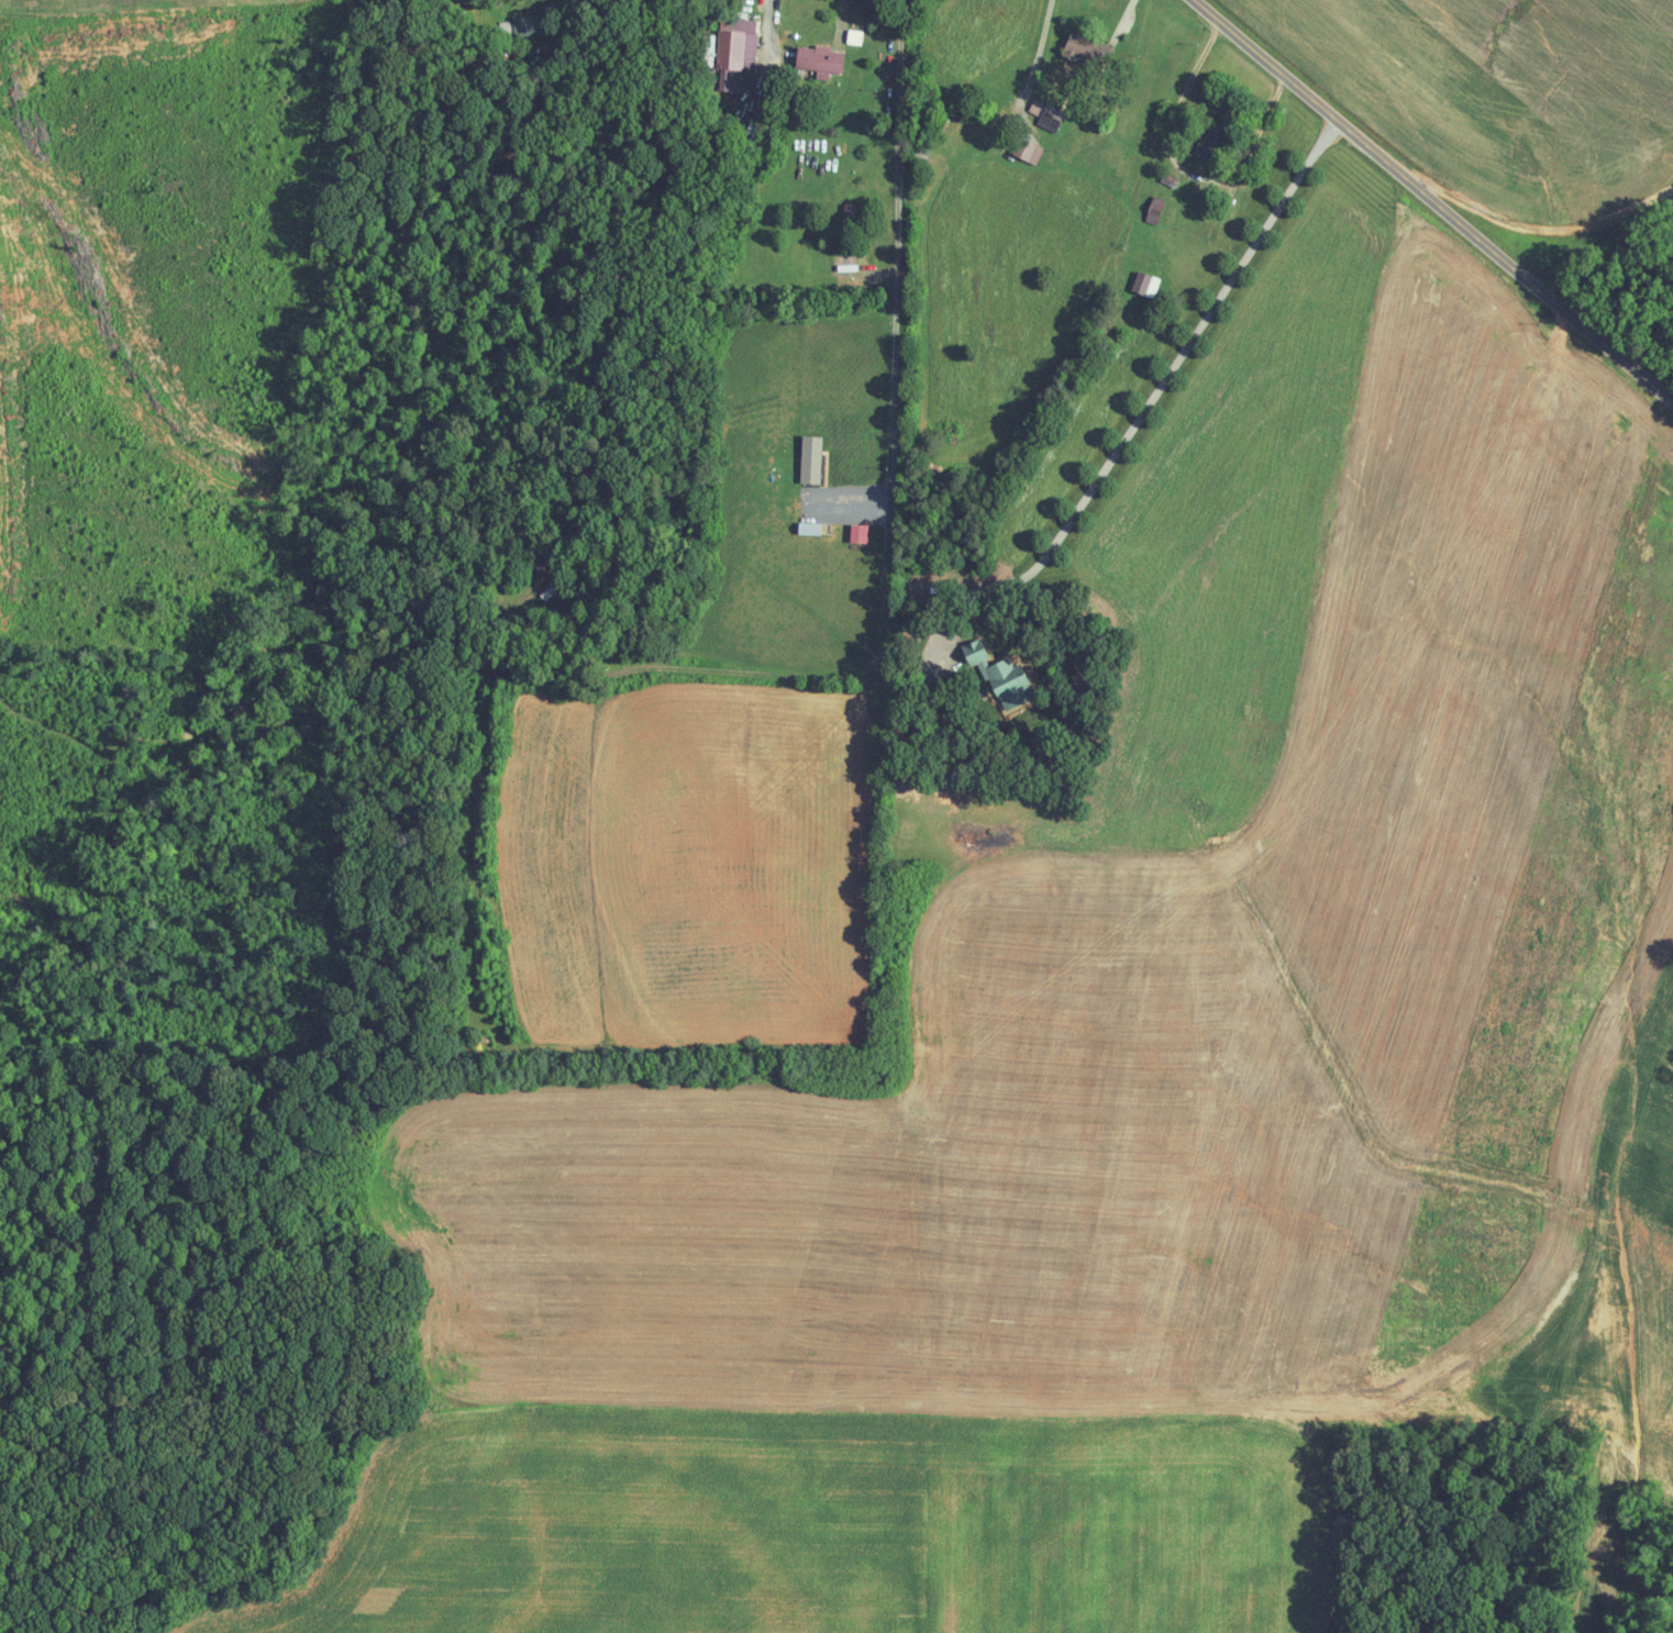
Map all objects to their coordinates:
building: (523, 24)
building: (734, 49)
building: (818, 59)
building: (1044, 114)
building: (1205, 144)
building: (1026, 151)
road: (1440, 196)
building: (1152, 208)
building: (840, 265)
building: (1143, 284)
road: (1152, 399)
building: (809, 458)
road: (886, 558)
building: (971, 652)
building: (1004, 681)

